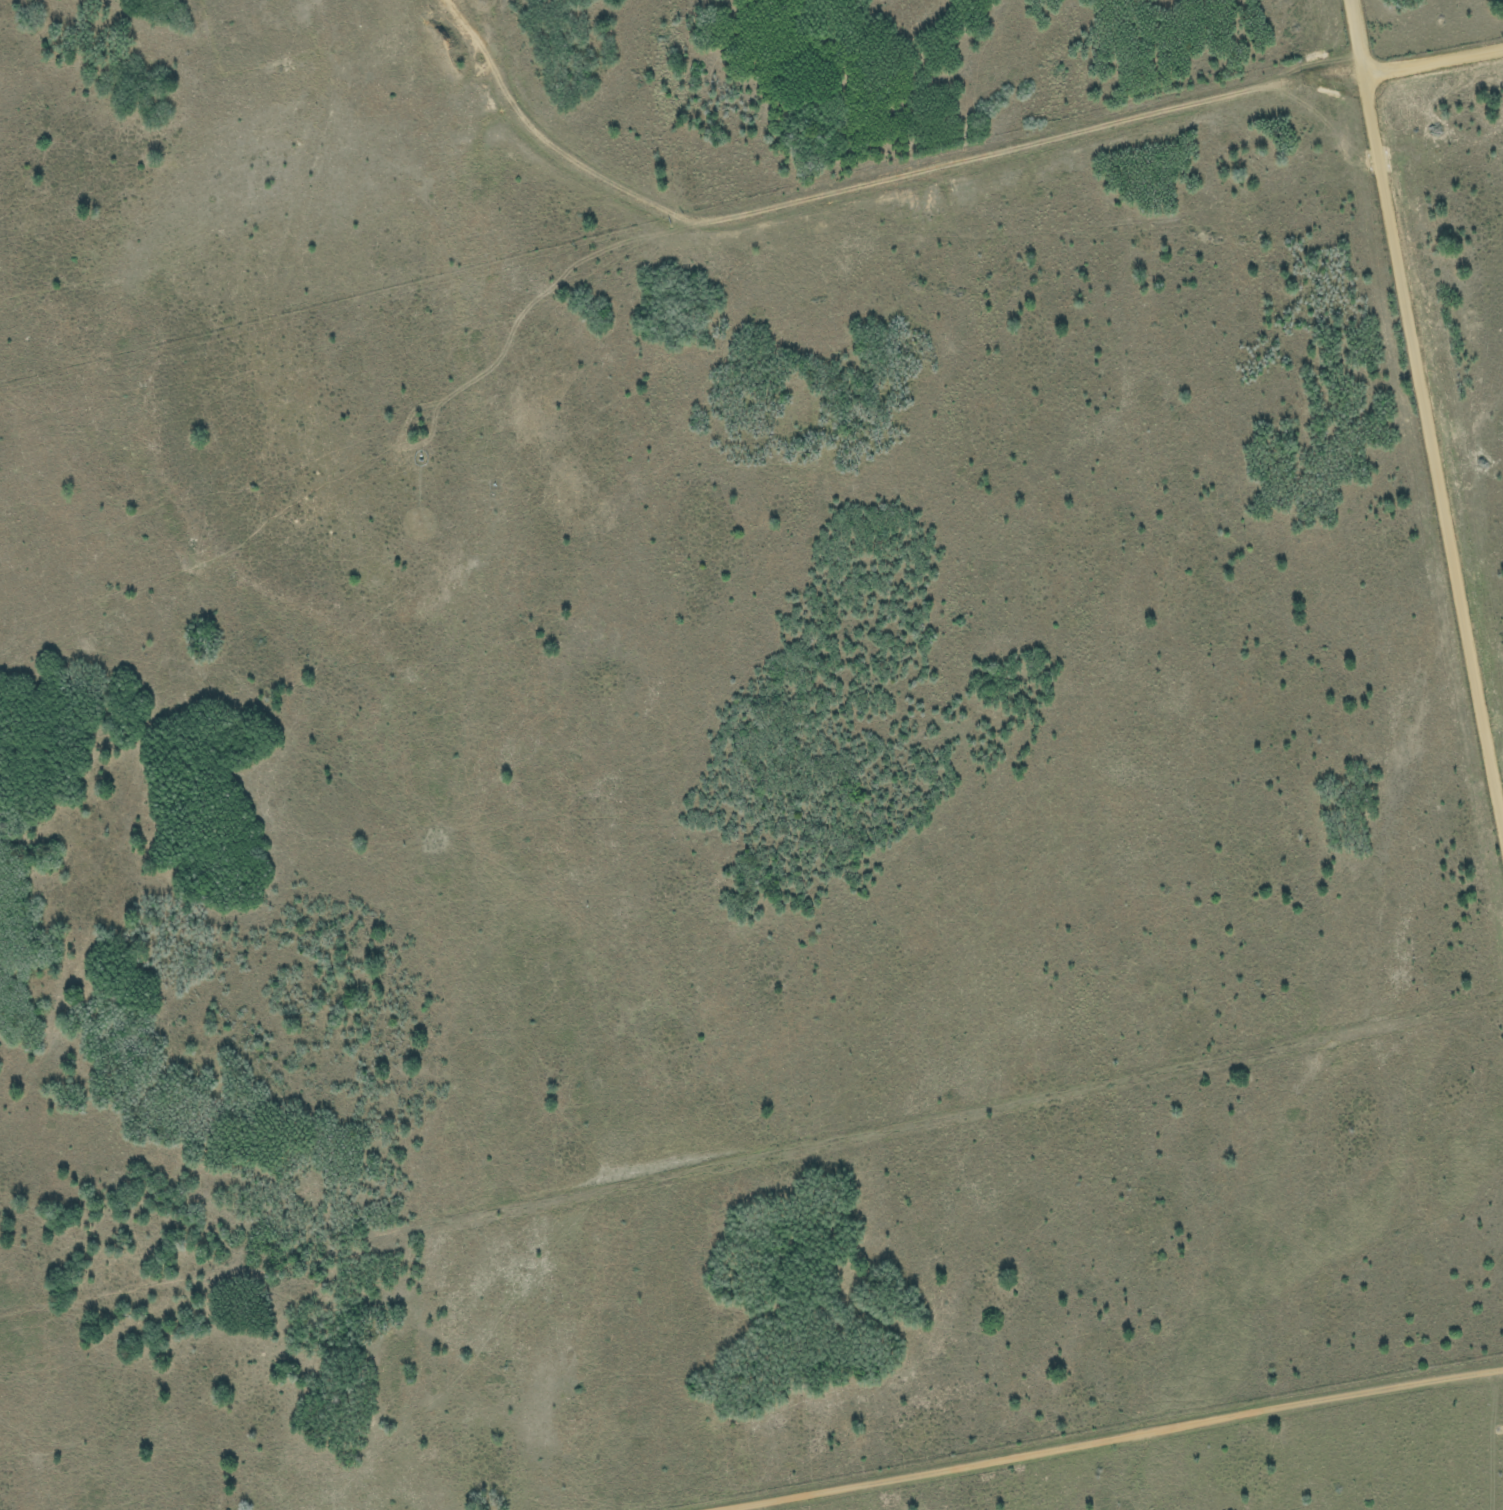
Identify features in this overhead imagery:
road: (1435, 59)
road: (1428, 403)

